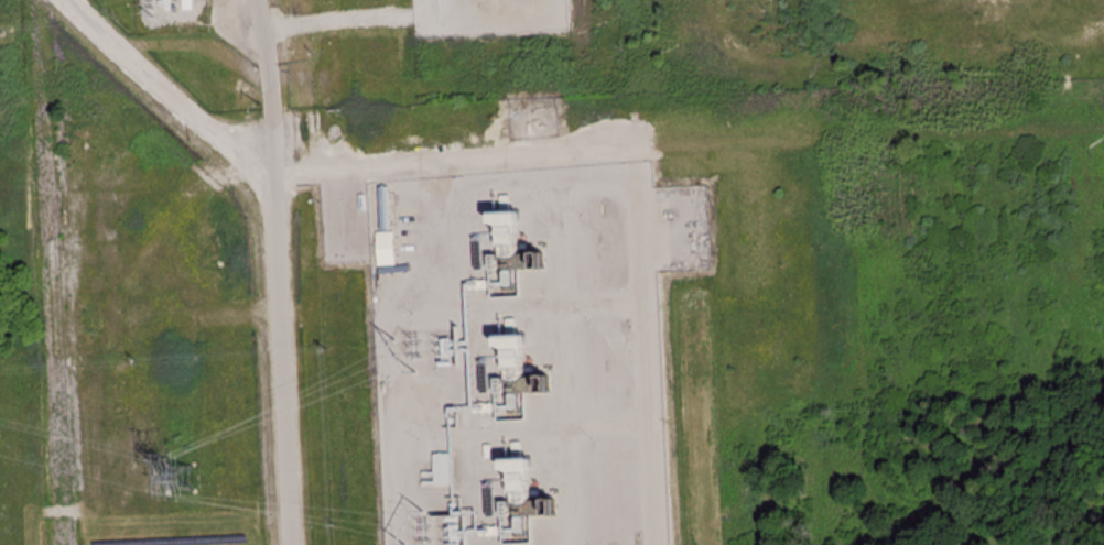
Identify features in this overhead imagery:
power substation: (174, 15)
road: (339, 19)
power tower: (4, 35)
road: (166, 88)
building: (383, 249)
chimney: (532, 257)
road: (280, 271)
railway: (42, 272)
power plant: (522, 348)
chimney: (540, 379)
building: (442, 470)
power tower: (186, 475)
chimney: (544, 502)
building: (493, 526)

